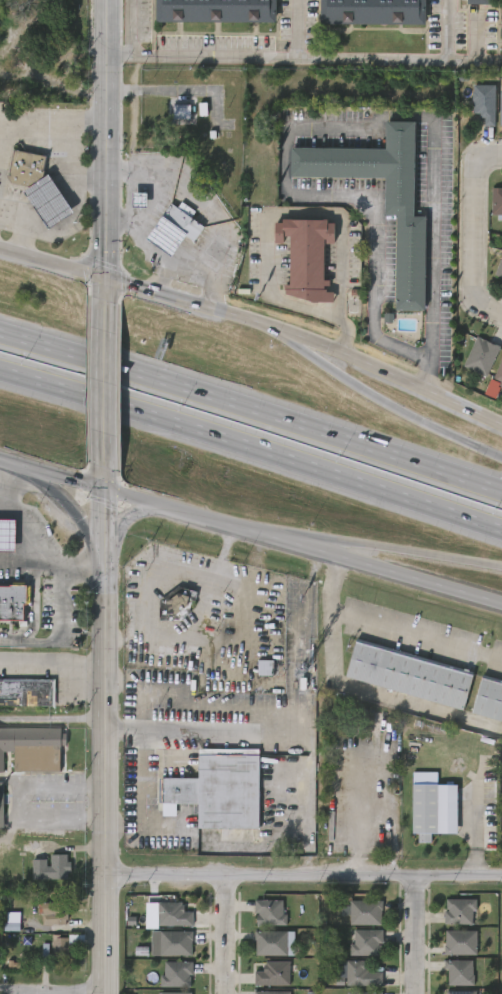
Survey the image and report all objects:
building: (480, 1)
building: (213, 10)
building: (370, 11)
building: (500, 18)
road: (130, 30)
road: (295, 30)
road: (451, 30)
road: (304, 61)
building: (38, 73)
building: (12, 83)
building: (33, 86)
building: (483, 102)
building: (499, 107)
building: (473, 113)
building: (171, 122)
road: (335, 130)
road: (105, 139)
road: (63, 142)
road: (488, 156)
building: (22, 168)
road: (164, 179)
building: (496, 200)
building: (46, 201)
gas station: (46, 201)
building: (129, 209)
road: (293, 211)
building: (405, 215)
building: (180, 220)
road: (210, 220)
road: (68, 222)
road: (475, 231)
road: (13, 233)
building: (164, 236)
gas station: (164, 236)
road: (137, 237)
building: (303, 257)
road: (51, 263)
building: (499, 268)
road: (192, 275)
traffic signals: (104, 278)
road: (104, 289)
road: (489, 311)
road: (307, 338)
road: (306, 349)
building: (482, 356)
building: (471, 366)
building: (499, 375)
road: (103, 384)
road: (251, 409)
road: (414, 418)
road: (251, 446)
road: (102, 478)
road: (12, 487)
traffic signals: (102, 489)
road: (70, 510)
road: (121, 526)
road: (251, 530)
building: (6, 535)
gas station: (6, 535)
road: (333, 544)
road: (311, 545)
road: (434, 554)
road: (17, 558)
road: (36, 558)
road: (164, 571)
building: (13, 601)
building: (177, 605)
road: (33, 611)
road: (391, 624)
road: (229, 641)
building: (407, 675)
building: (254, 677)
building: (26, 691)
building: (488, 698)
road: (280, 726)
road: (108, 741)
building: (32, 747)
building: (220, 790)
road: (16, 804)
building: (2, 806)
building: (423, 810)
road: (464, 831)
building: (52, 868)
road: (306, 876)
building: (41, 877)
building: (364, 911)
building: (458, 911)
building: (53, 912)
building: (268, 912)
building: (174, 915)
building: (449, 920)
building: (43, 921)
building: (259, 922)
building: (355, 922)
building: (163, 924)
road: (222, 935)
road: (412, 935)
building: (4, 936)
building: (269, 942)
building: (365, 942)
building: (459, 942)
building: (170, 943)
building: (64, 944)
building: (355, 952)
building: (450, 952)
building: (161, 953)
building: (54, 954)
building: (458, 972)
building: (271, 974)
building: (177, 975)
building: (360, 975)
building: (270, 992)
building: (460, 992)
building: (173, 993)
building: (363, 993)

